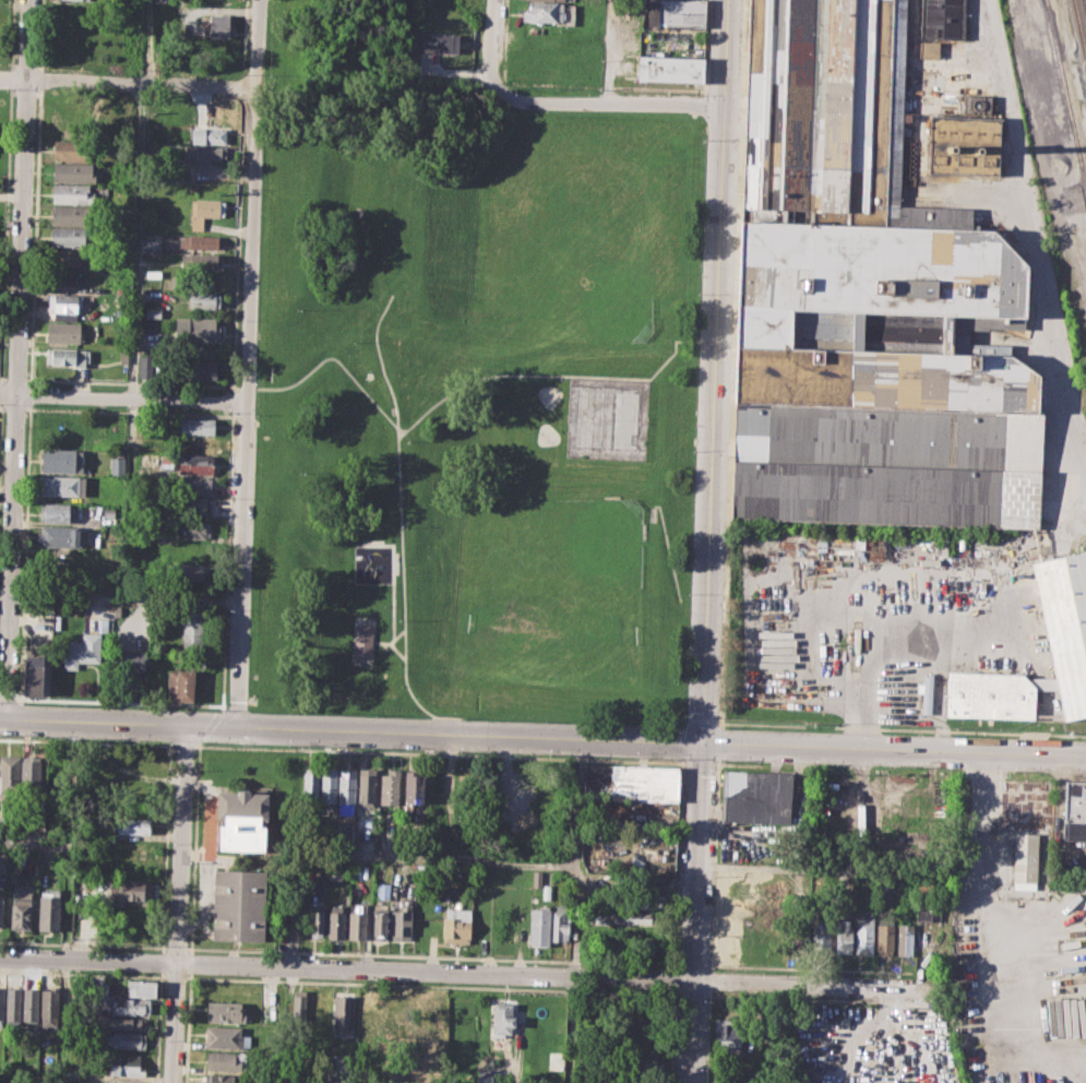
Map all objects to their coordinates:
building: (81, 0)
road: (247, 1)
railway: (1085, 2)
building: (544, 12)
building: (676, 12)
building: (942, 17)
building: (219, 25)
railway: (1079, 28)
road: (148, 41)
building: (440, 43)
road: (490, 46)
building: (929, 49)
road: (610, 52)
building: (669, 68)
road: (128, 82)
railway: (1065, 95)
road: (607, 106)
building: (116, 119)
building: (208, 134)
building: (965, 140)
building: (72, 150)
building: (208, 160)
building: (74, 172)
building: (71, 193)
building: (206, 211)
building: (71, 215)
road: (1031, 229)
building: (69, 236)
park: (566, 236)
building: (200, 242)
building: (153, 245)
building: (72, 257)
road: (238, 258)
building: (202, 260)
building: (153, 273)
building: (204, 299)
building: (863, 299)
building: (68, 308)
building: (152, 311)
building: (198, 329)
building: (63, 331)
road: (691, 340)
building: (67, 357)
road: (336, 359)
road: (17, 360)
road: (732, 364)
building: (146, 365)
road: (248, 365)
building: (200, 369)
road: (714, 373)
road: (534, 374)
road: (234, 386)
road: (248, 386)
park: (549, 395)
road: (123, 397)
road: (133, 398)
road: (232, 401)
road: (2, 407)
road: (15, 408)
road: (129, 410)
park: (475, 410)
park: (607, 418)
building: (196, 425)
park: (547, 435)
building: (148, 442)
building: (196, 443)
road: (397, 459)
building: (61, 461)
building: (117, 464)
building: (195, 464)
building: (62, 486)
building: (195, 486)
building: (193, 505)
building: (60, 512)
road: (653, 512)
building: (109, 514)
building: (193, 528)
building: (60, 536)
park: (592, 539)
road: (668, 550)
building: (195, 570)
road: (393, 572)
road: (5, 594)
road: (69, 597)
building: (116, 610)
building: (1065, 621)
building: (103, 624)
building: (194, 629)
park: (551, 629)
building: (362, 640)
road: (382, 642)
building: (81, 651)
building: (131, 659)
road: (224, 662)
road: (405, 671)
building: (33, 675)
building: (179, 683)
building: (927, 693)
building: (990, 694)
road: (8, 699)
road: (92, 724)
road: (442, 737)
road: (87, 741)
road: (718, 742)
road: (183, 745)
road: (893, 751)
road: (438, 752)
road: (717, 761)
road: (699, 762)
building: (31, 772)
building: (9, 774)
building: (311, 782)
building: (631, 782)
building: (327, 786)
building: (367, 786)
building: (414, 786)
building: (389, 787)
building: (347, 792)
building: (756, 796)
building: (1074, 810)
building: (367, 816)
building: (241, 820)
building: (28, 821)
building: (8, 824)
building: (134, 825)
road: (181, 844)
road: (432, 855)
building: (1025, 860)
road: (696, 861)
road: (69, 869)
road: (822, 869)
building: (537, 879)
building: (647, 882)
building: (383, 889)
building: (129, 890)
building: (927, 902)
building: (1, 904)
building: (21, 904)
building: (239, 905)
road: (981, 908)
building: (49, 909)
building: (640, 917)
building: (317, 920)
building: (401, 921)
building: (335, 923)
building: (380, 923)
building: (560, 923)
building: (357, 925)
building: (456, 925)
building: (538, 925)
building: (823, 932)
building: (864, 932)
building: (844, 933)
building: (884, 936)
building: (905, 939)
road: (88, 957)
road: (709, 963)
road: (434, 969)
road: (815, 981)
building: (141, 988)
building: (100, 996)
building: (1, 1003)
building: (299, 1003)
building: (13, 1004)
building: (31, 1004)
building: (50, 1005)
building: (130, 1007)
building: (226, 1013)
building: (344, 1013)
building: (369, 1014)
building: (391, 1016)
building: (502, 1019)
road: (174, 1022)
building: (130, 1023)
road: (691, 1031)
building: (730, 1035)
building: (227, 1037)
building: (128, 1039)
building: (226, 1060)
building: (644, 1061)
building: (126, 1064)
building: (71, 1074)
building: (224, 1078)
building: (122, 1082)

